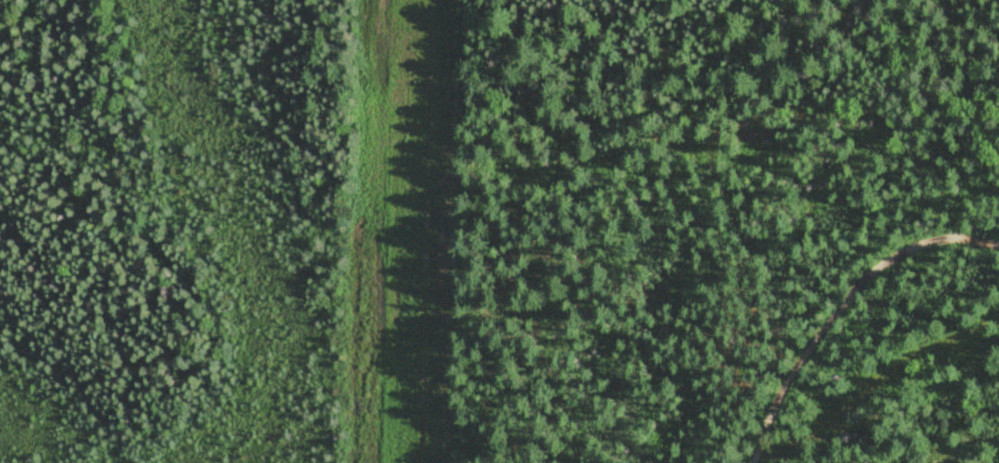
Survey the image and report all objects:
road: (839, 304)

